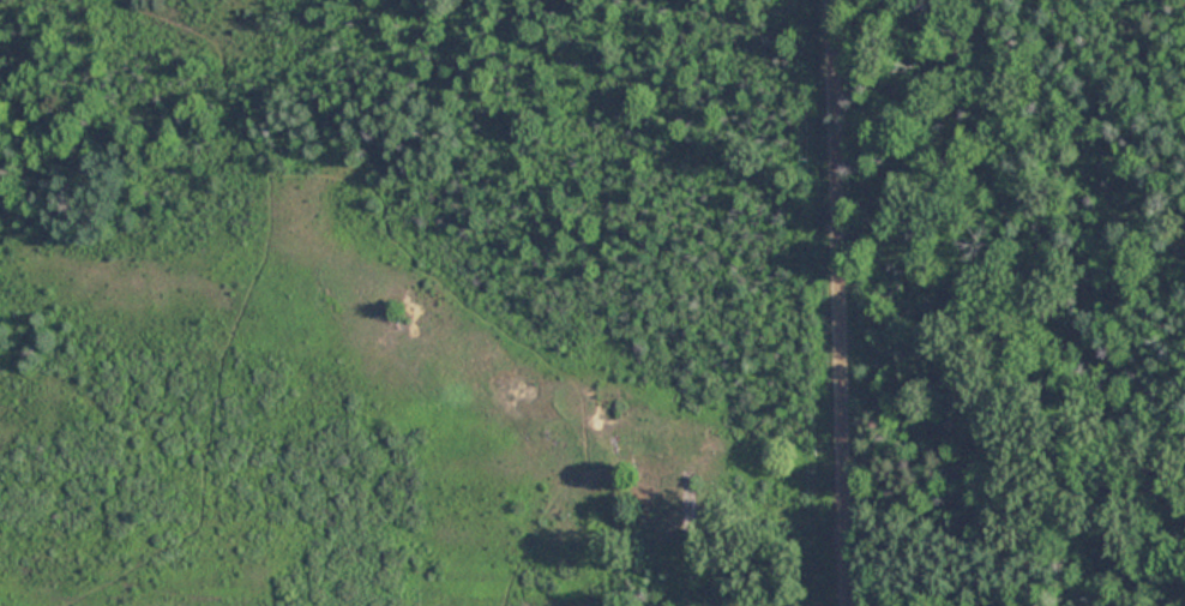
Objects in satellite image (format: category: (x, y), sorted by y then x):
park: (1009, 300)
road: (841, 302)

